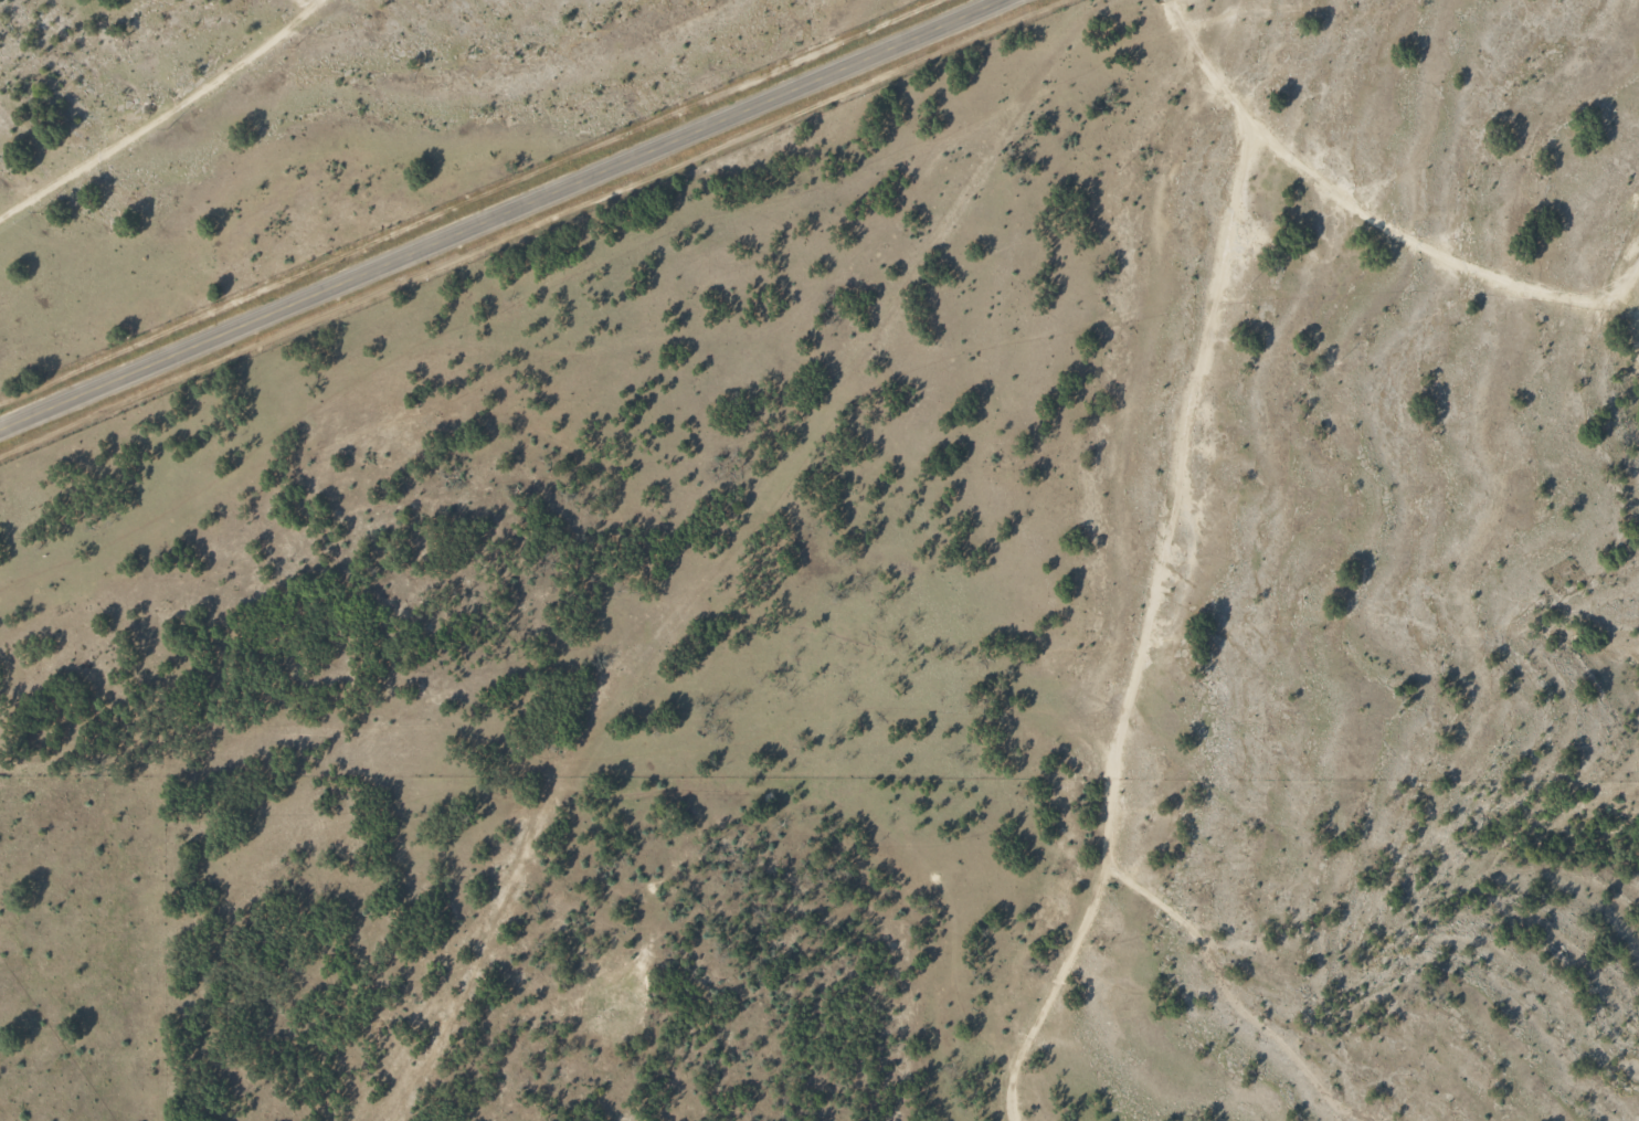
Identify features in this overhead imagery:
road: (501, 219)

